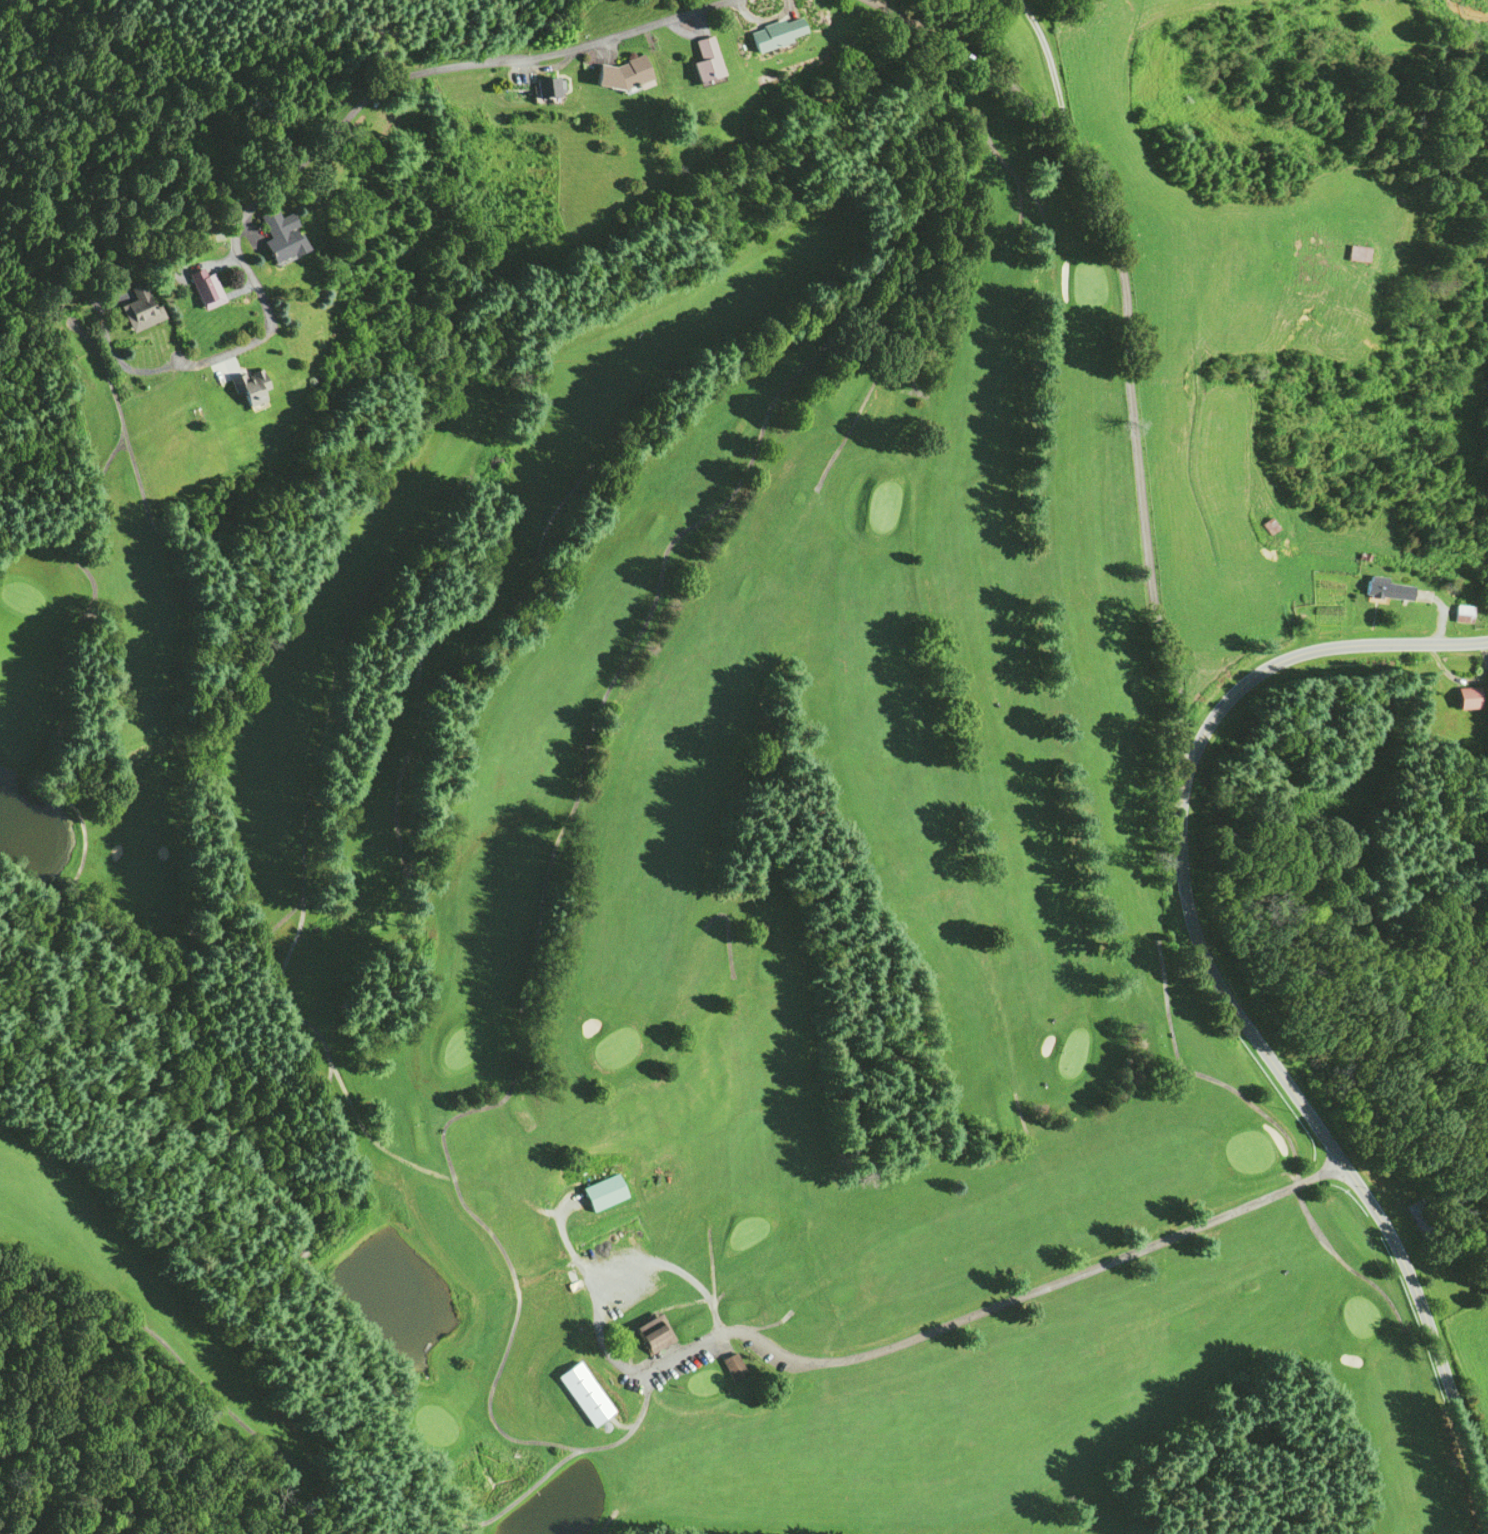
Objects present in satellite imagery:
building: (775, 31)
building: (704, 57)
road: (1048, 69)
building: (624, 72)
building: (543, 85)
road: (356, 104)
building: (284, 232)
building: (1361, 254)
building: (207, 287)
building: (144, 309)
road: (1125, 335)
road: (119, 363)
building: (252, 384)
building: (1271, 526)
building: (1386, 586)
building: (1458, 611)
building: (1468, 696)
park: (675, 906)
road: (1208, 979)
road: (1280, 1127)
building: (603, 1191)
building: (1421, 1218)
road: (1034, 1289)
building: (652, 1331)
road: (599, 1332)
building: (733, 1364)
building: (583, 1392)

